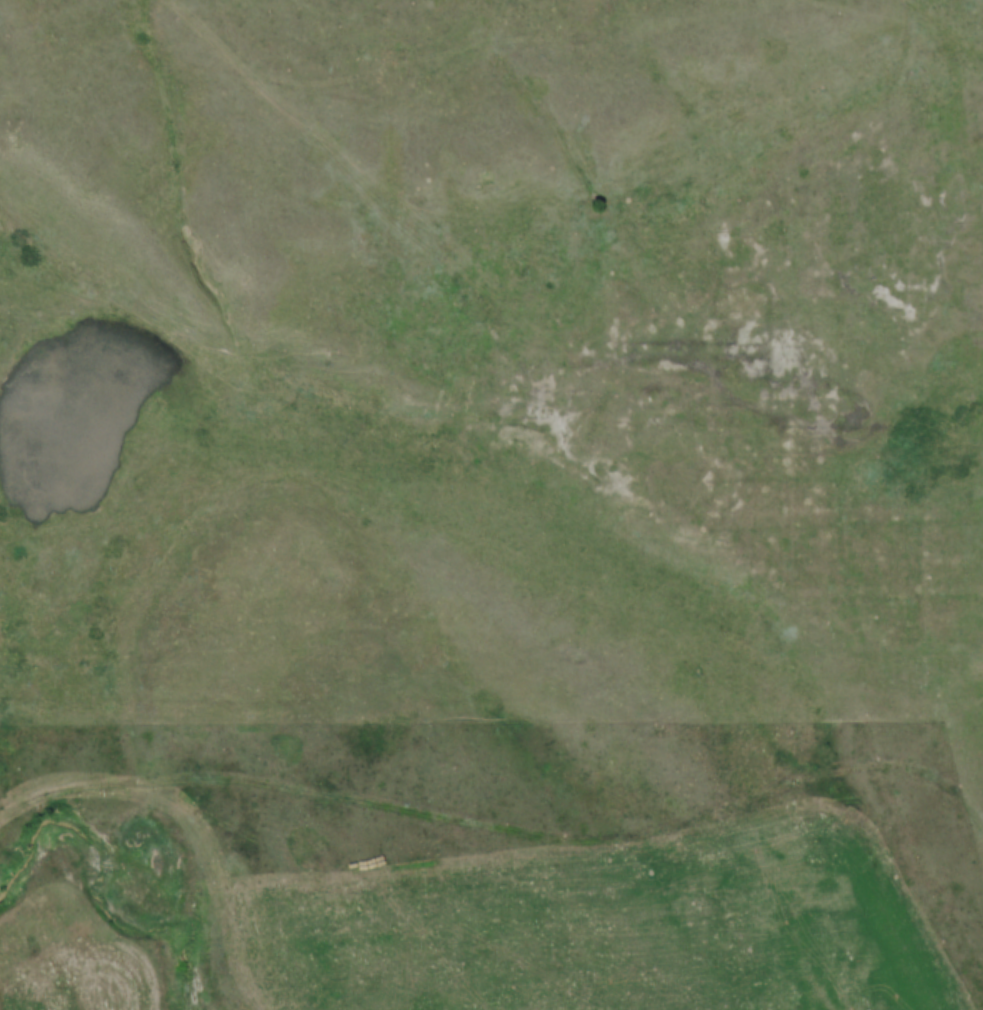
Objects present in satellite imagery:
road: (504, 825)

